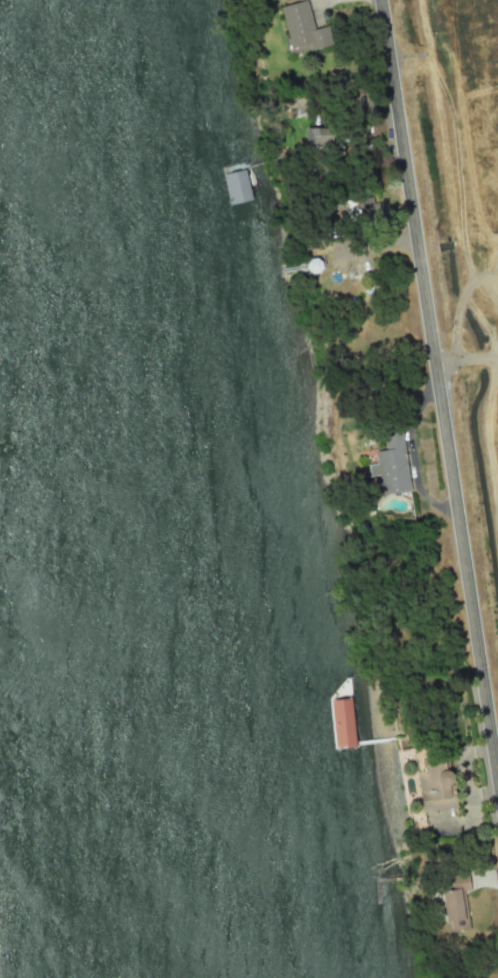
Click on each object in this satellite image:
building: (303, 26)
building: (318, 136)
building: (237, 186)
building: (367, 205)
road: (467, 358)
road: (439, 382)
building: (391, 464)
river: (132, 488)
building: (342, 723)
building: (432, 789)
building: (461, 882)
building: (454, 910)

